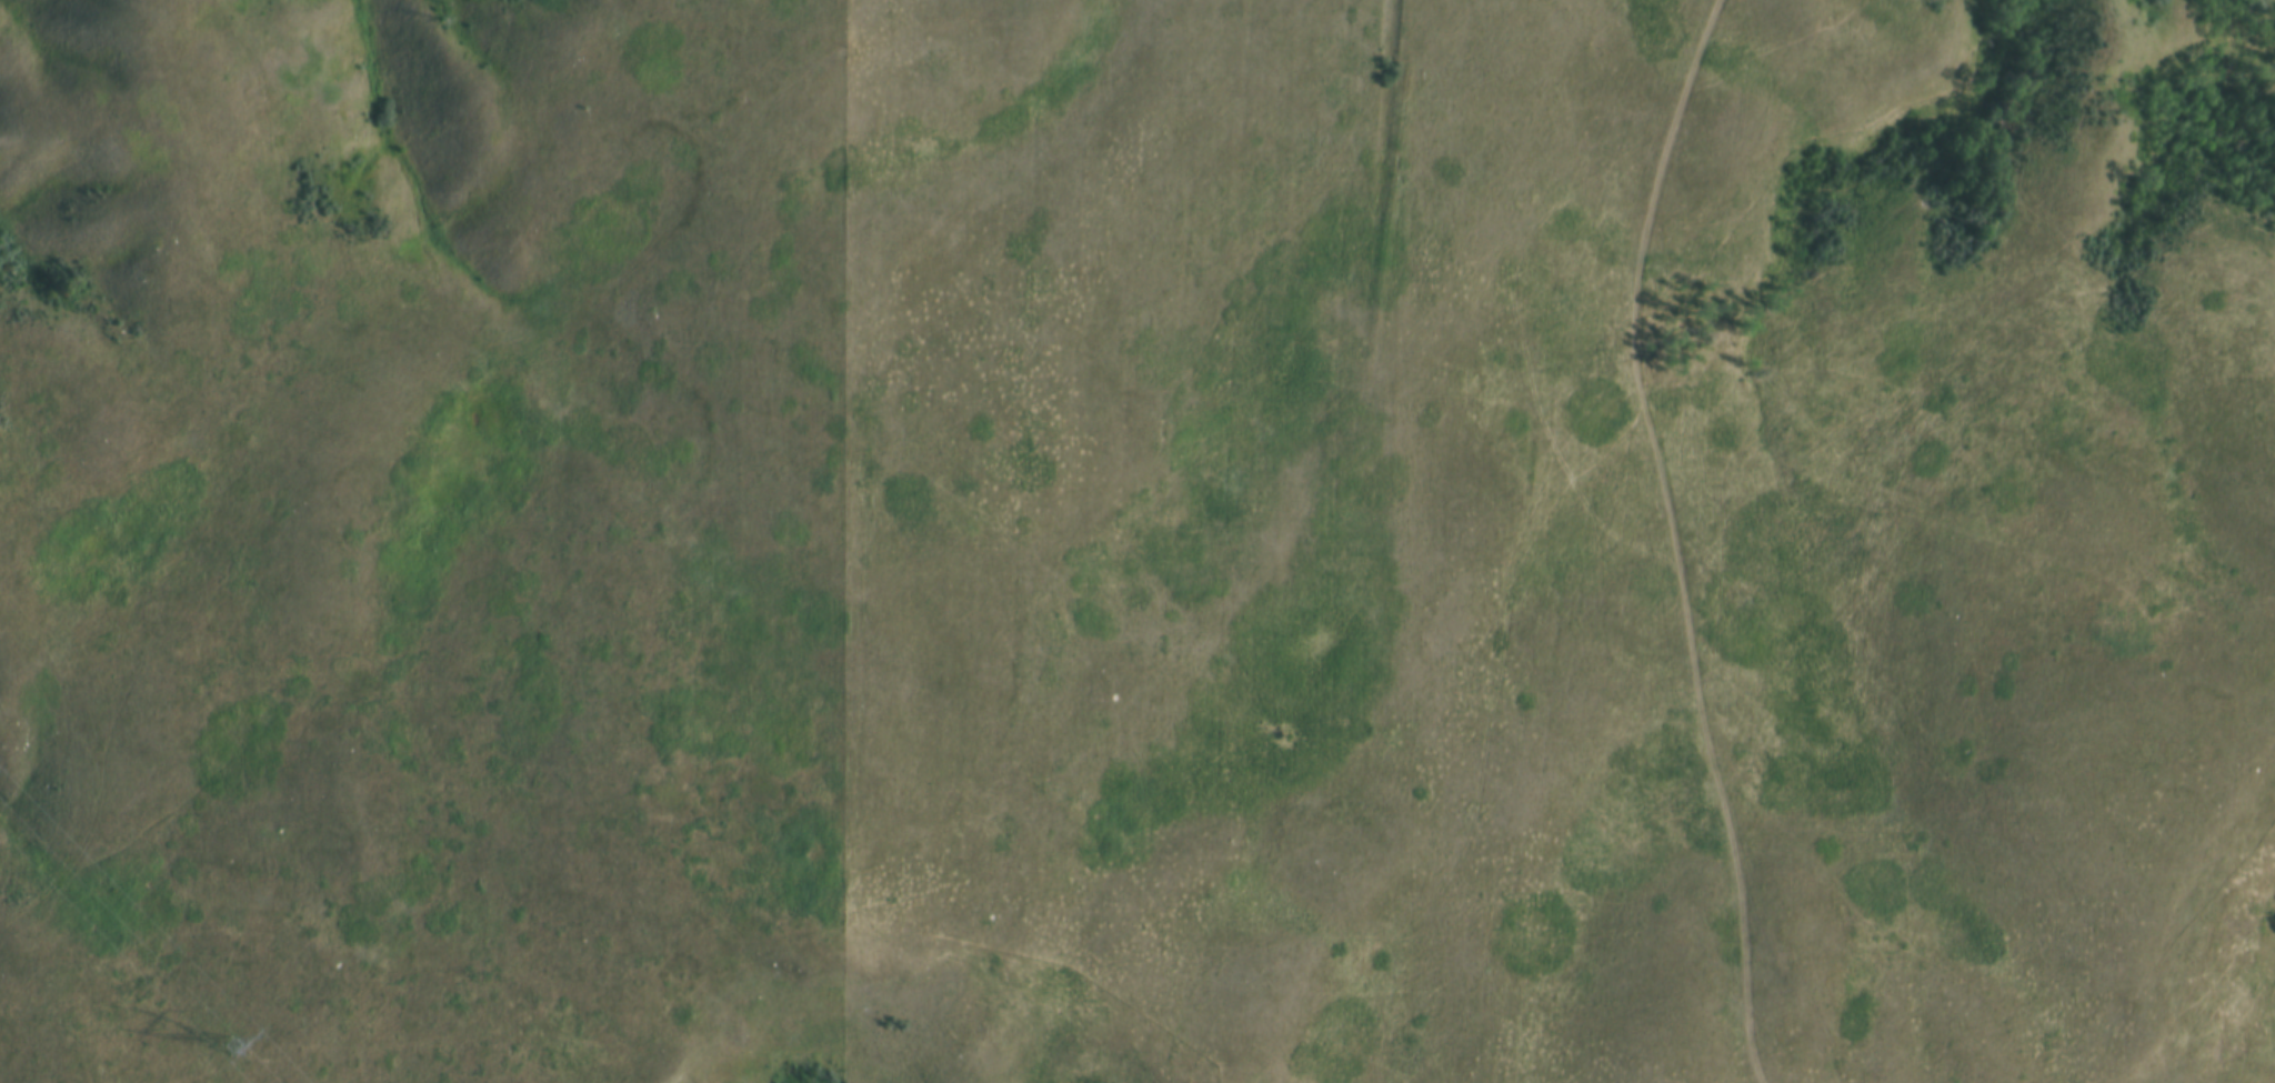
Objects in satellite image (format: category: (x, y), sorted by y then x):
power tower: (214, 1064)

